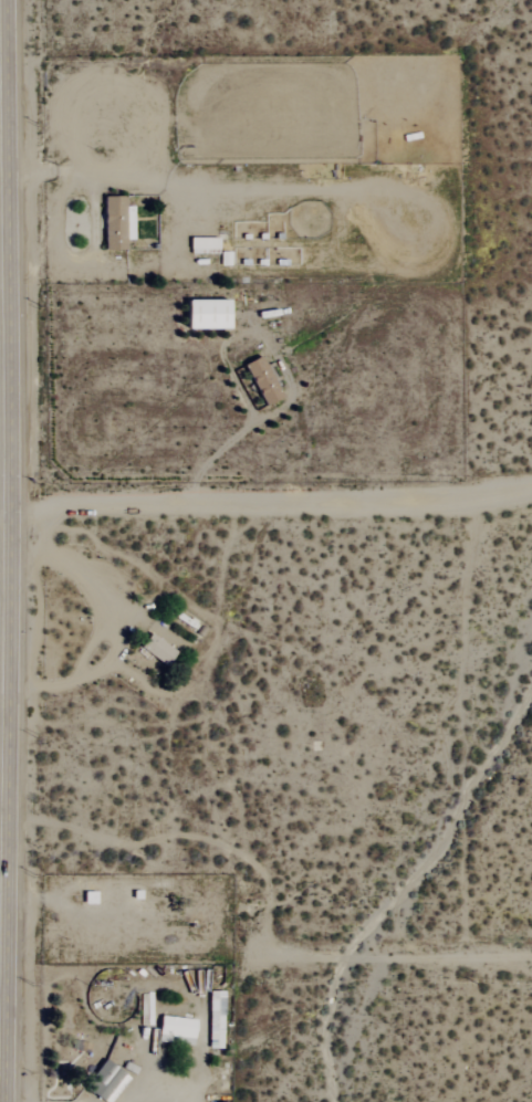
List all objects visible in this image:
road: (3, 48)
building: (113, 222)
building: (205, 314)
building: (260, 380)
road: (14, 451)
road: (212, 454)
road: (273, 497)
road: (8, 503)
road: (109, 631)
road: (87, 650)
building: (156, 650)
road: (1, 822)
road: (265, 956)
building: (175, 1031)
road: (0, 1081)
building: (104, 1082)
road: (167, 1094)

